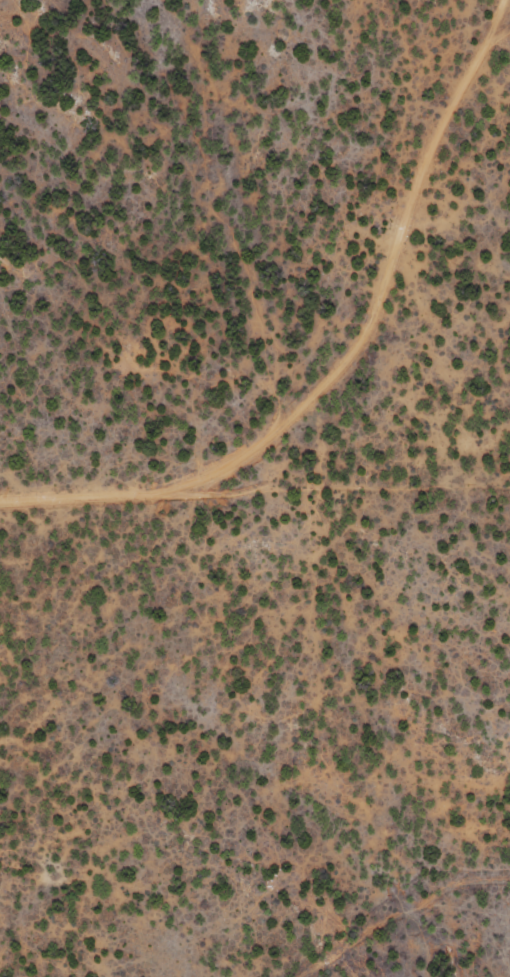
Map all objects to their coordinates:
road: (340, 356)

